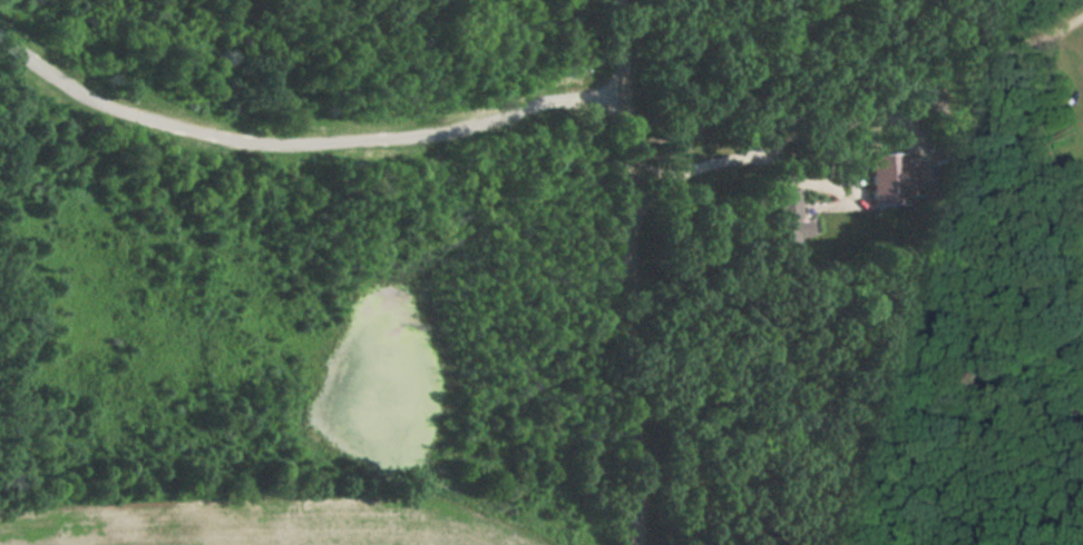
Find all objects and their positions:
road: (860, 117)
road: (304, 147)
building: (887, 178)
road: (633, 272)

